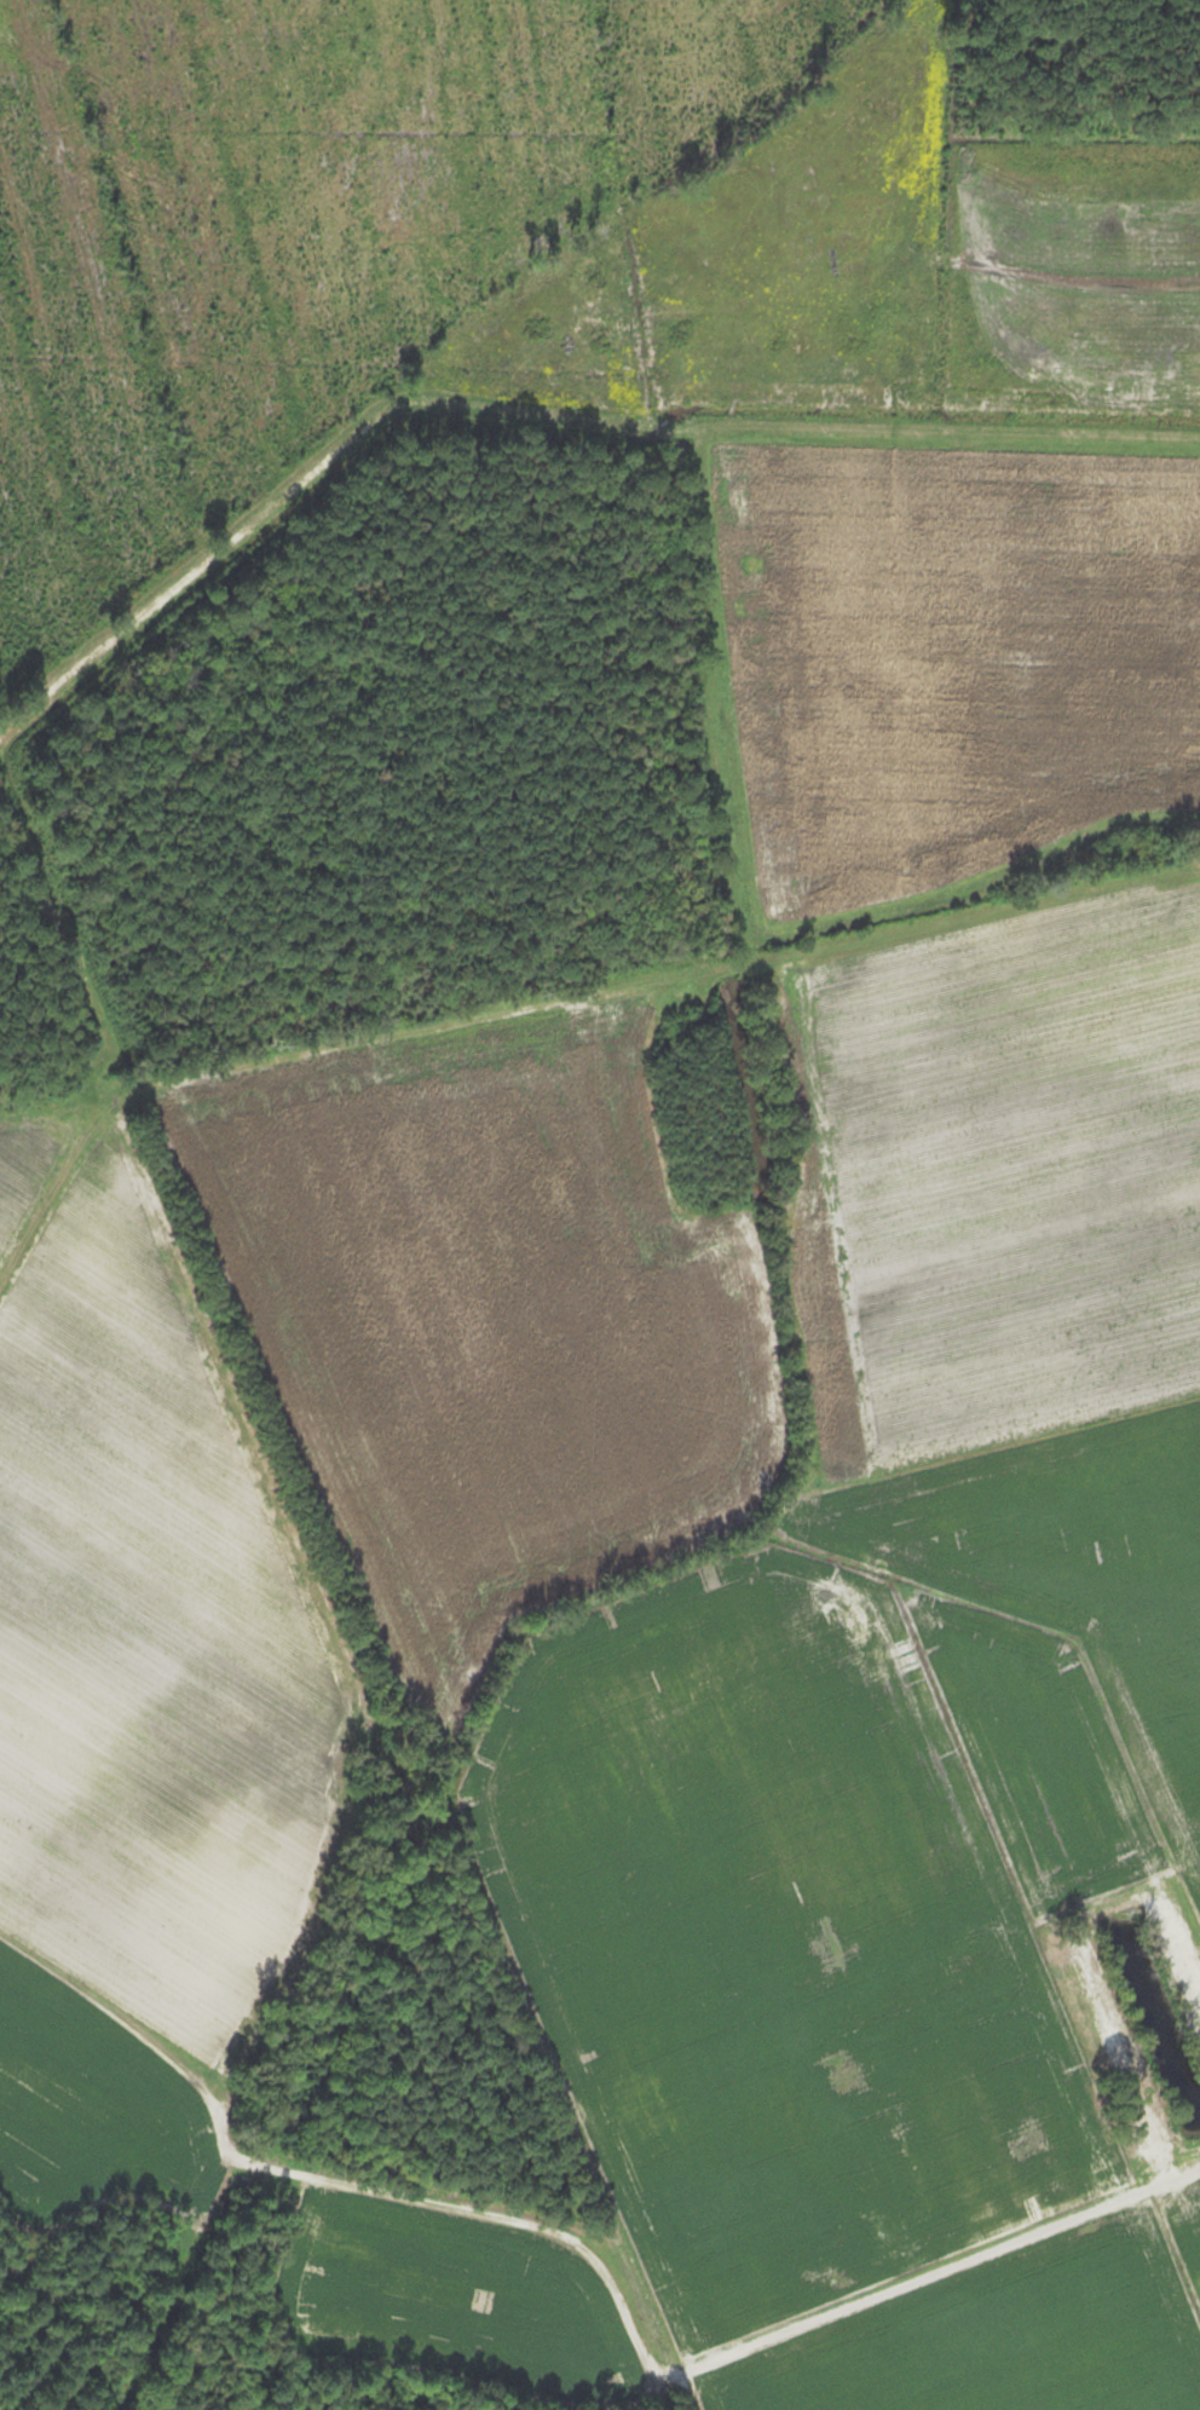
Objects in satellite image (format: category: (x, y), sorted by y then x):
road: (674, 947)
road: (369, 1556)

